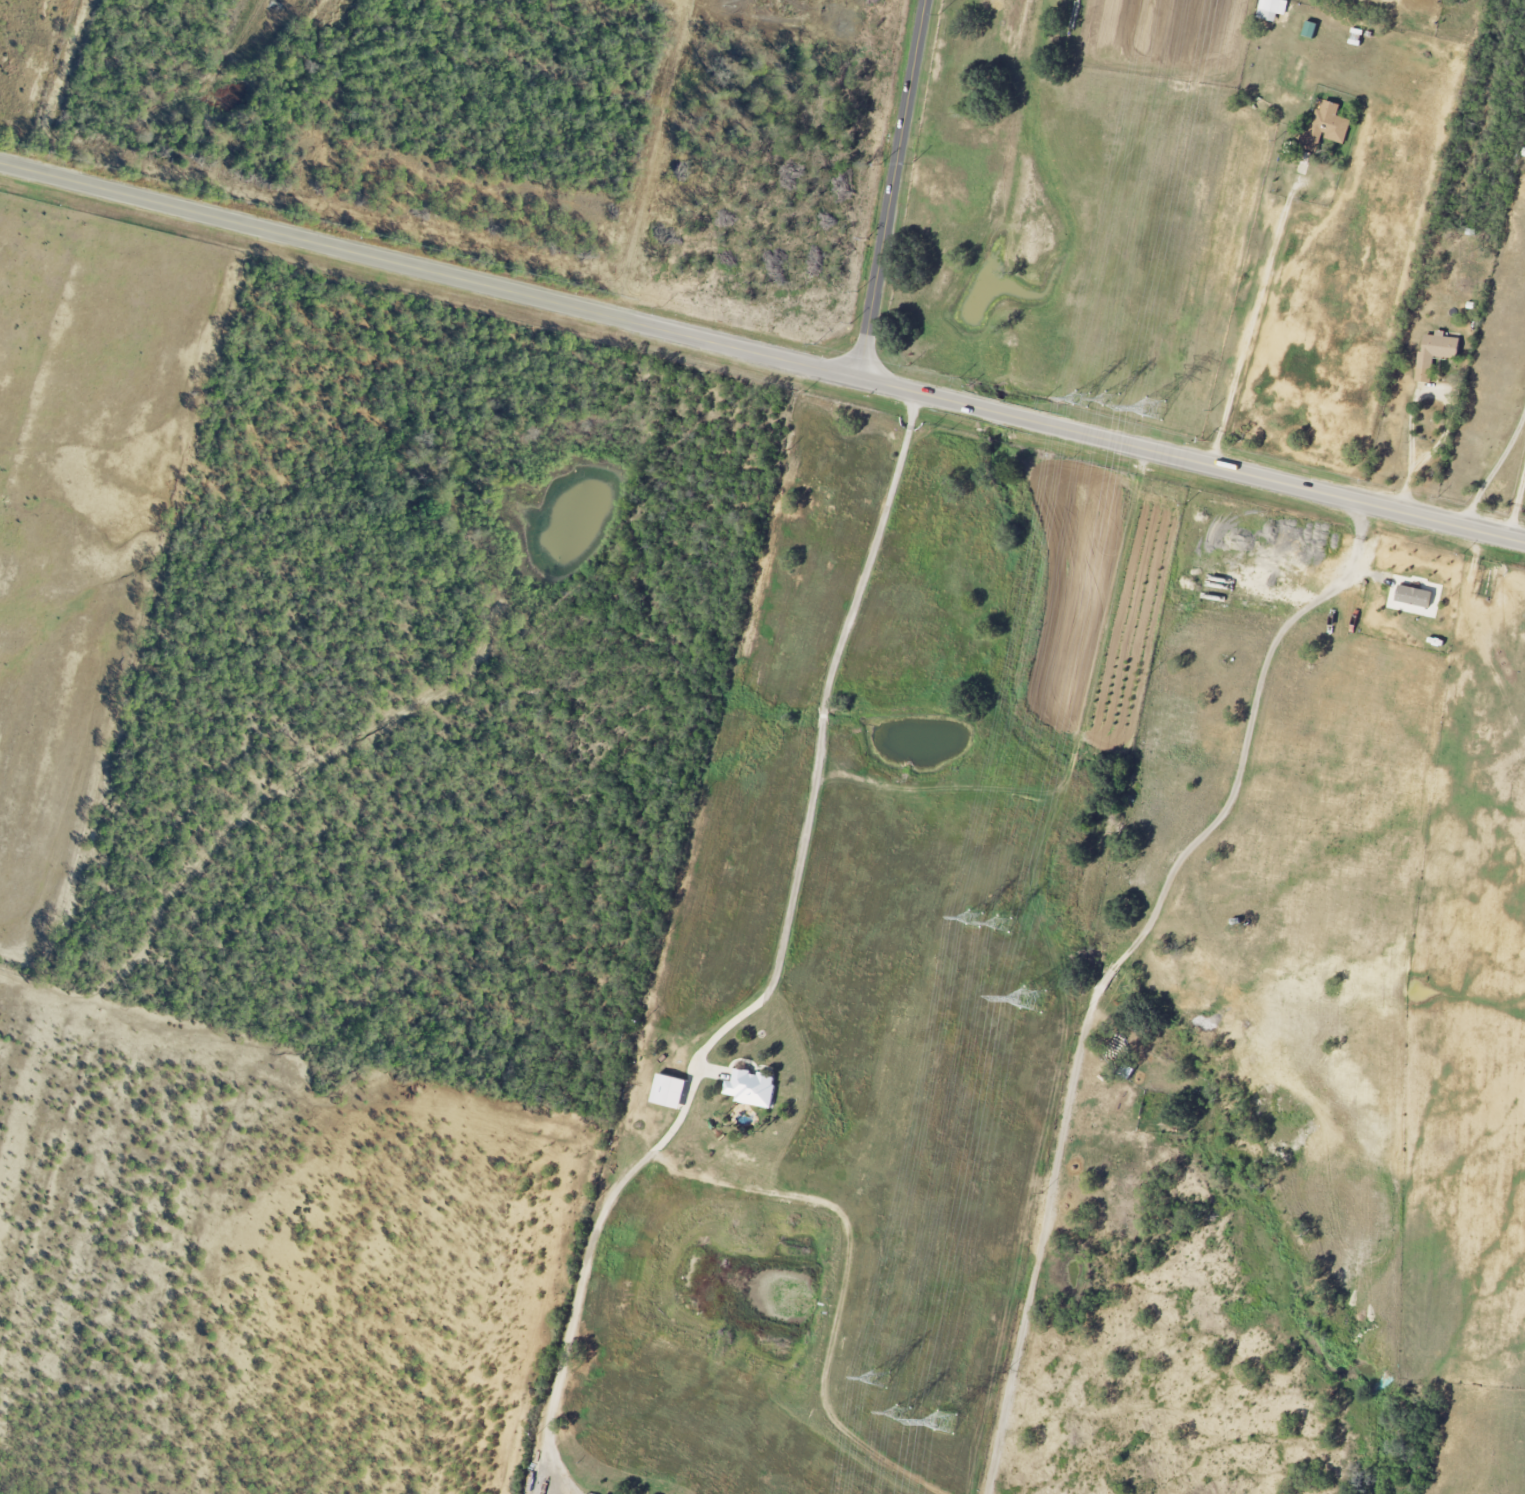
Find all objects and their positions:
building: (1272, 9)
building: (1311, 30)
building: (1327, 127)
building: (1291, 148)
road: (894, 190)
road: (1249, 328)
building: (1436, 354)
road: (762, 355)
power tower: (1082, 400)
power tower: (1114, 401)
power tower: (1155, 410)
road: (1447, 414)
road: (1494, 467)
road: (1515, 502)
road: (872, 551)
road: (823, 714)
power tower: (975, 918)
power tower: (1005, 924)
road: (1113, 967)
power tower: (1033, 1004)
building: (753, 1089)
building: (671, 1092)
road: (689, 1104)
power tower: (880, 1379)
power tower: (902, 1413)
power tower: (946, 1422)

